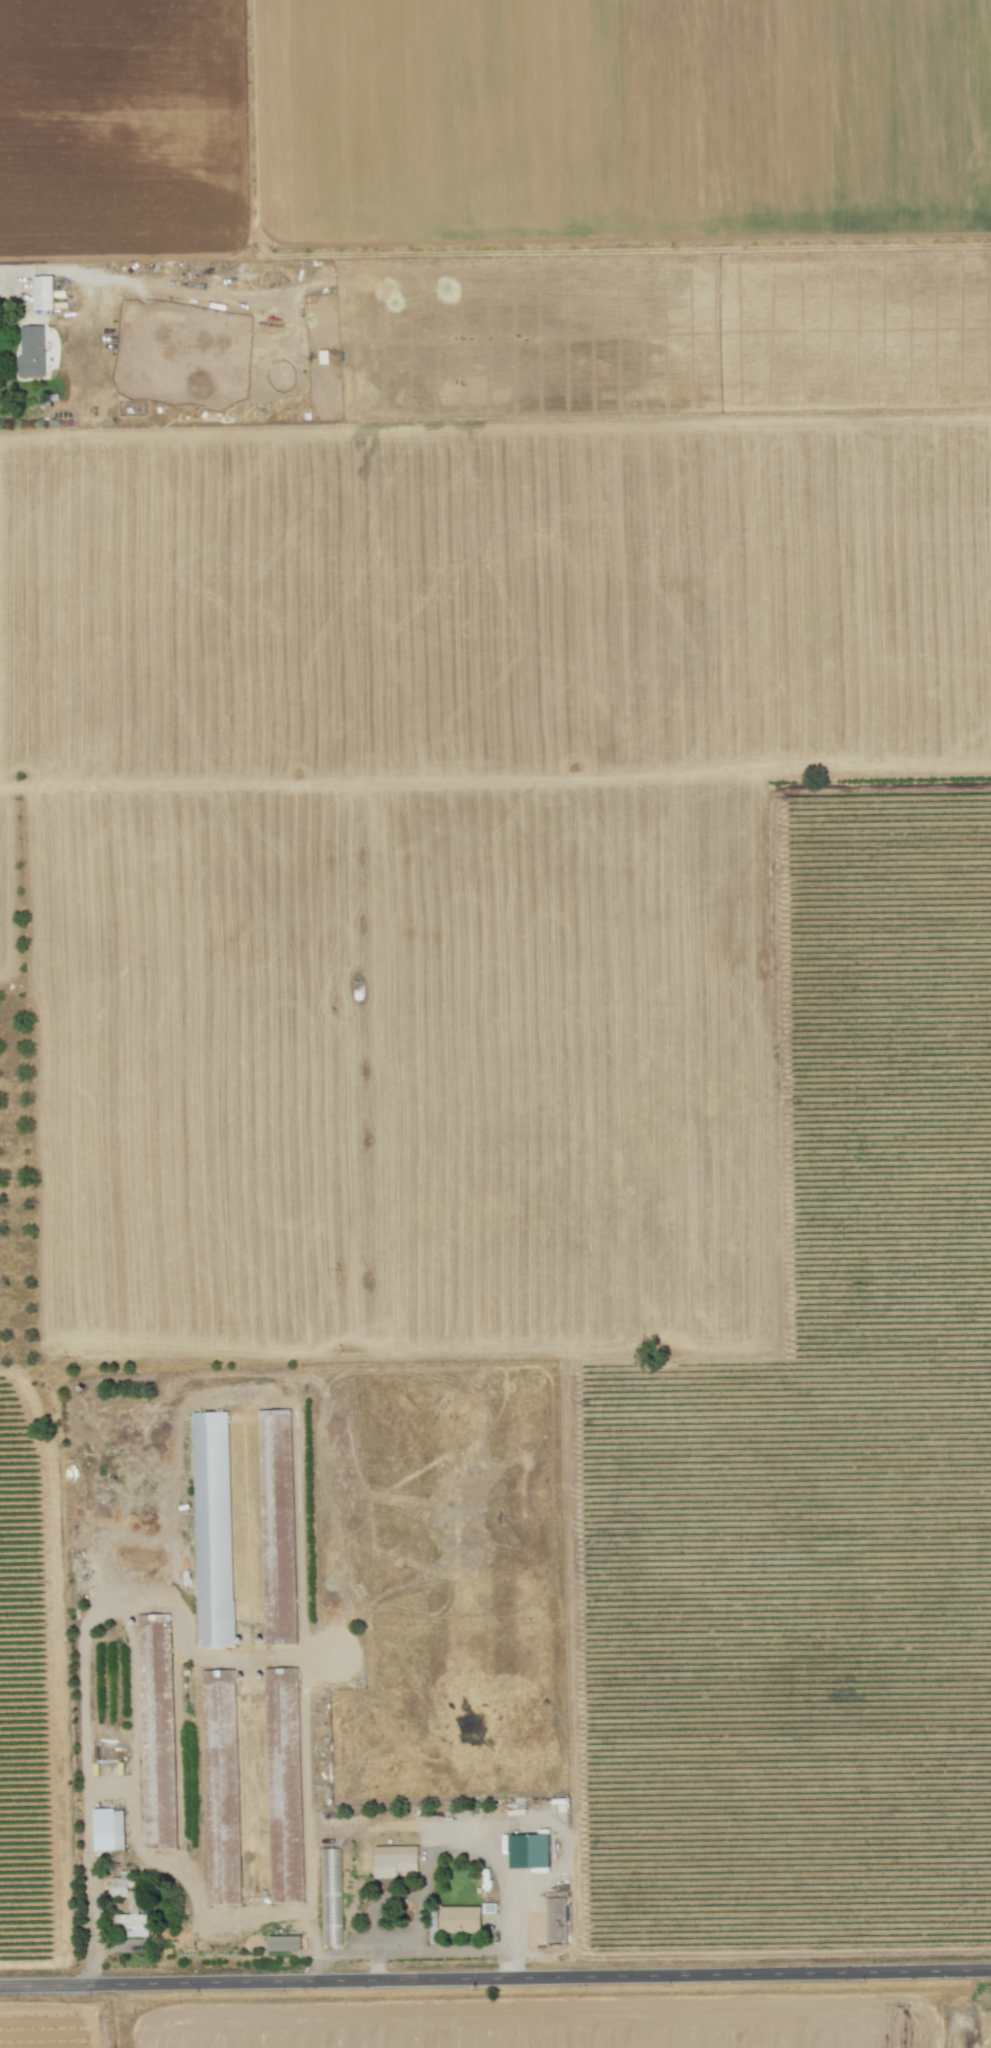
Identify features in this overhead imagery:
building: (42, 292)
building: (31, 351)
building: (212, 1529)
building: (281, 1705)
building: (156, 1731)
road: (131, 1827)
building: (108, 1829)
road: (433, 1851)
building: (529, 1851)
building: (394, 1860)
building: (330, 1895)
building: (130, 1908)
building: (460, 1919)
building: (284, 1943)
road: (355, 1953)
road: (376, 1968)
road: (495, 1983)

